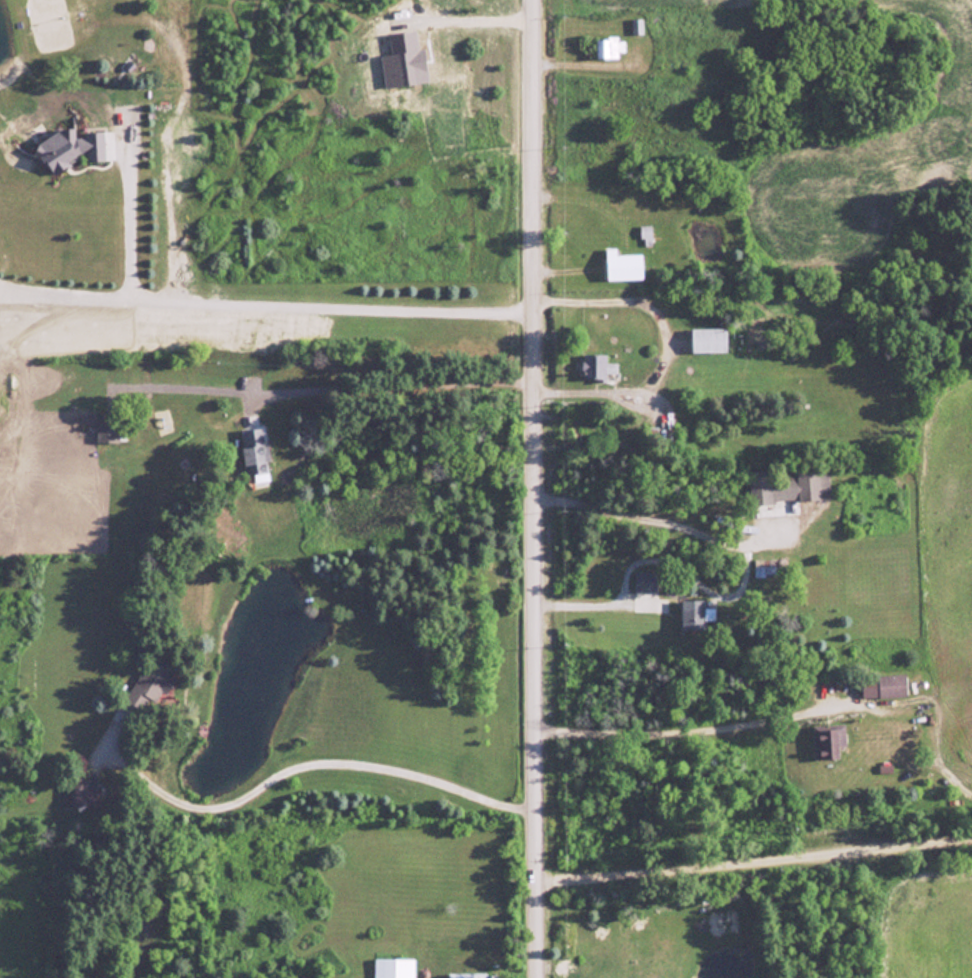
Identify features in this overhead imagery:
building: (637, 27)
building: (611, 48)
building: (67, 148)
building: (621, 265)
road: (255, 303)
building: (706, 340)
road: (662, 345)
building: (595, 367)
road: (391, 387)
building: (105, 427)
building: (786, 486)
road: (535, 489)
building: (761, 567)
building: (643, 581)
road: (740, 584)
building: (149, 684)
building: (882, 686)
road: (688, 731)
building: (826, 740)
road: (311, 757)
building: (82, 794)
road: (753, 870)
building: (392, 968)
building: (472, 975)

